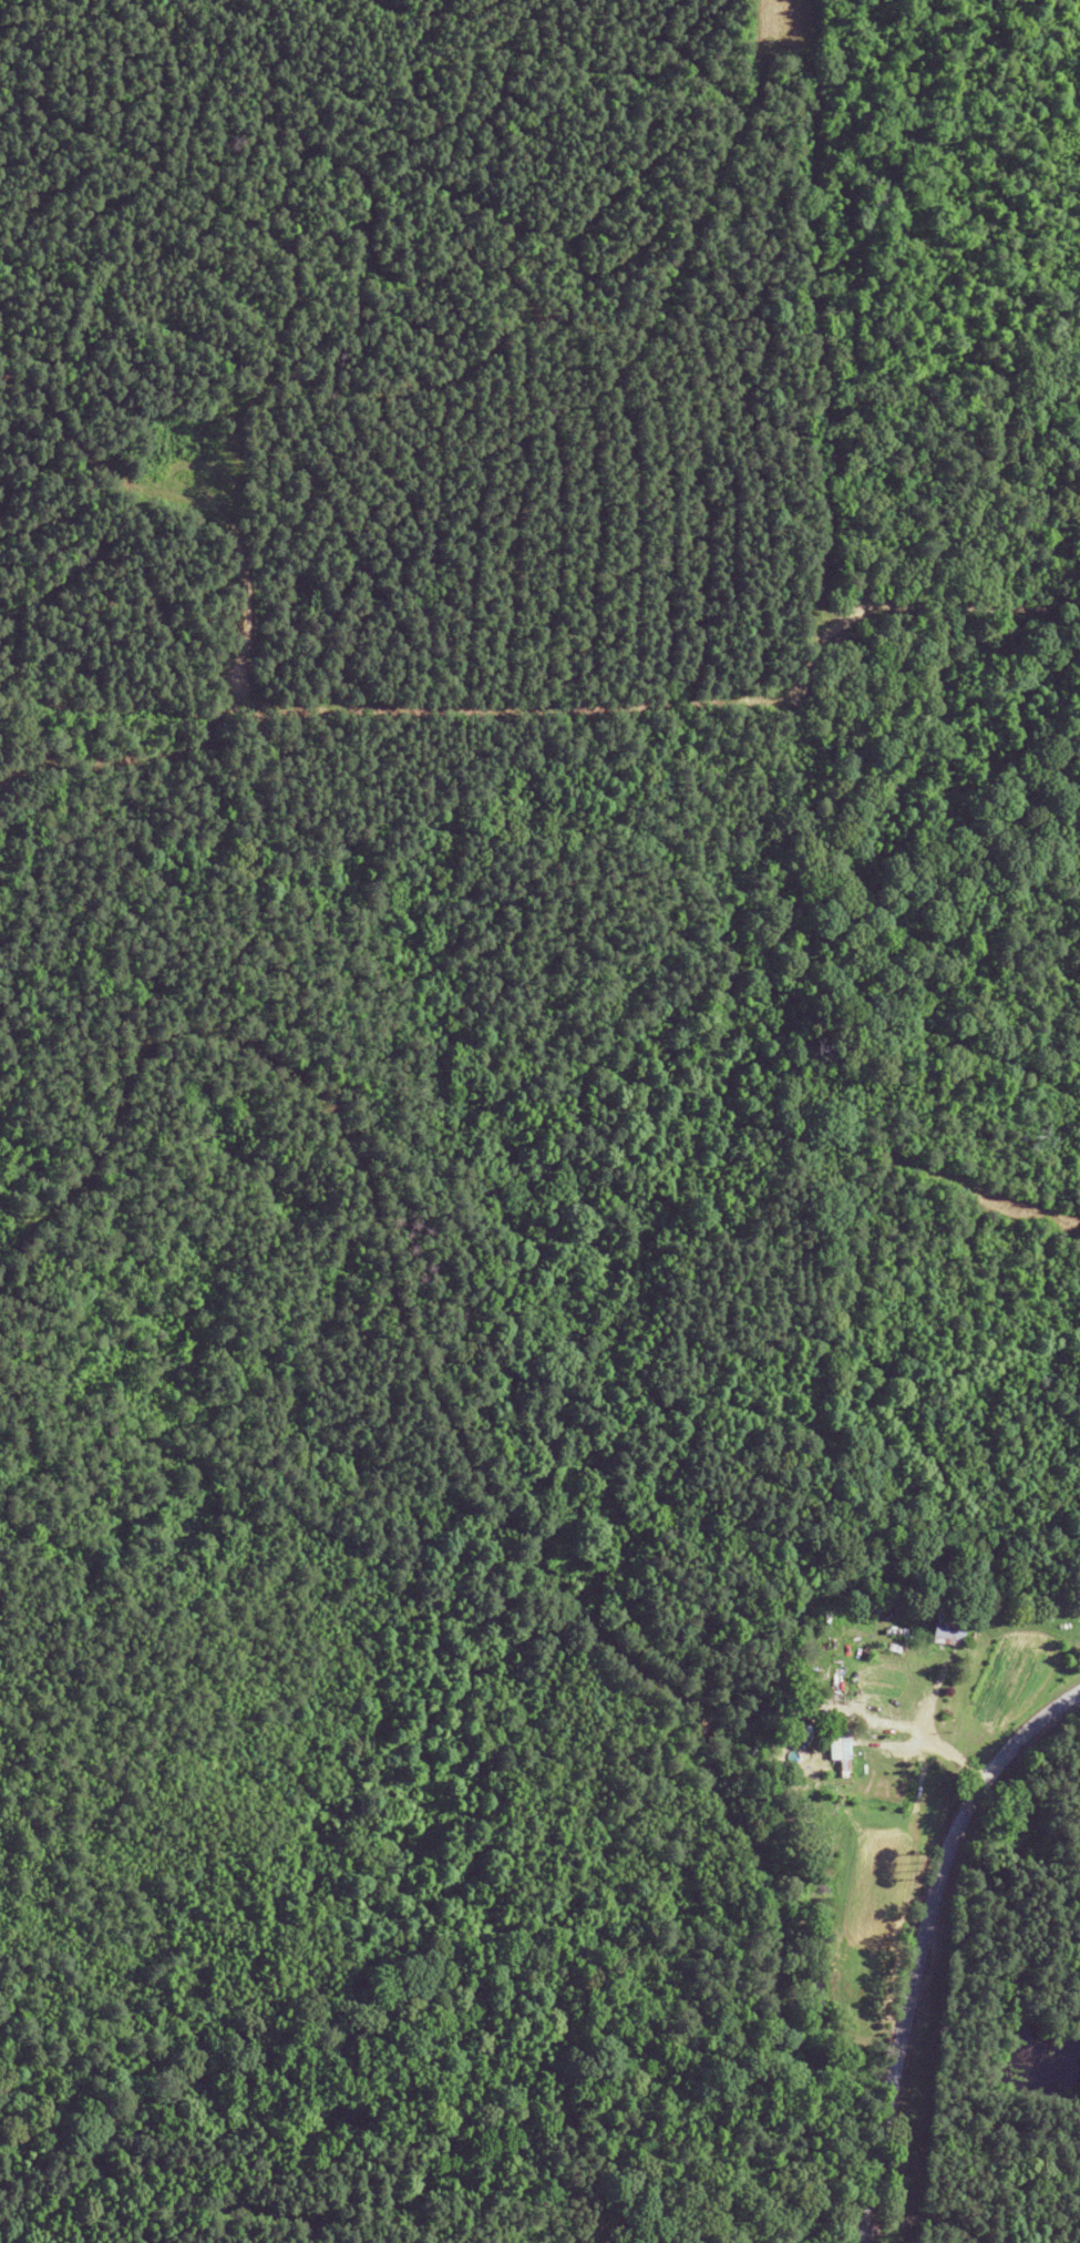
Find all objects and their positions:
building: (1079, 1605)
building: (953, 1629)
building: (850, 1754)
road: (920, 1939)
road: (881, 2240)

